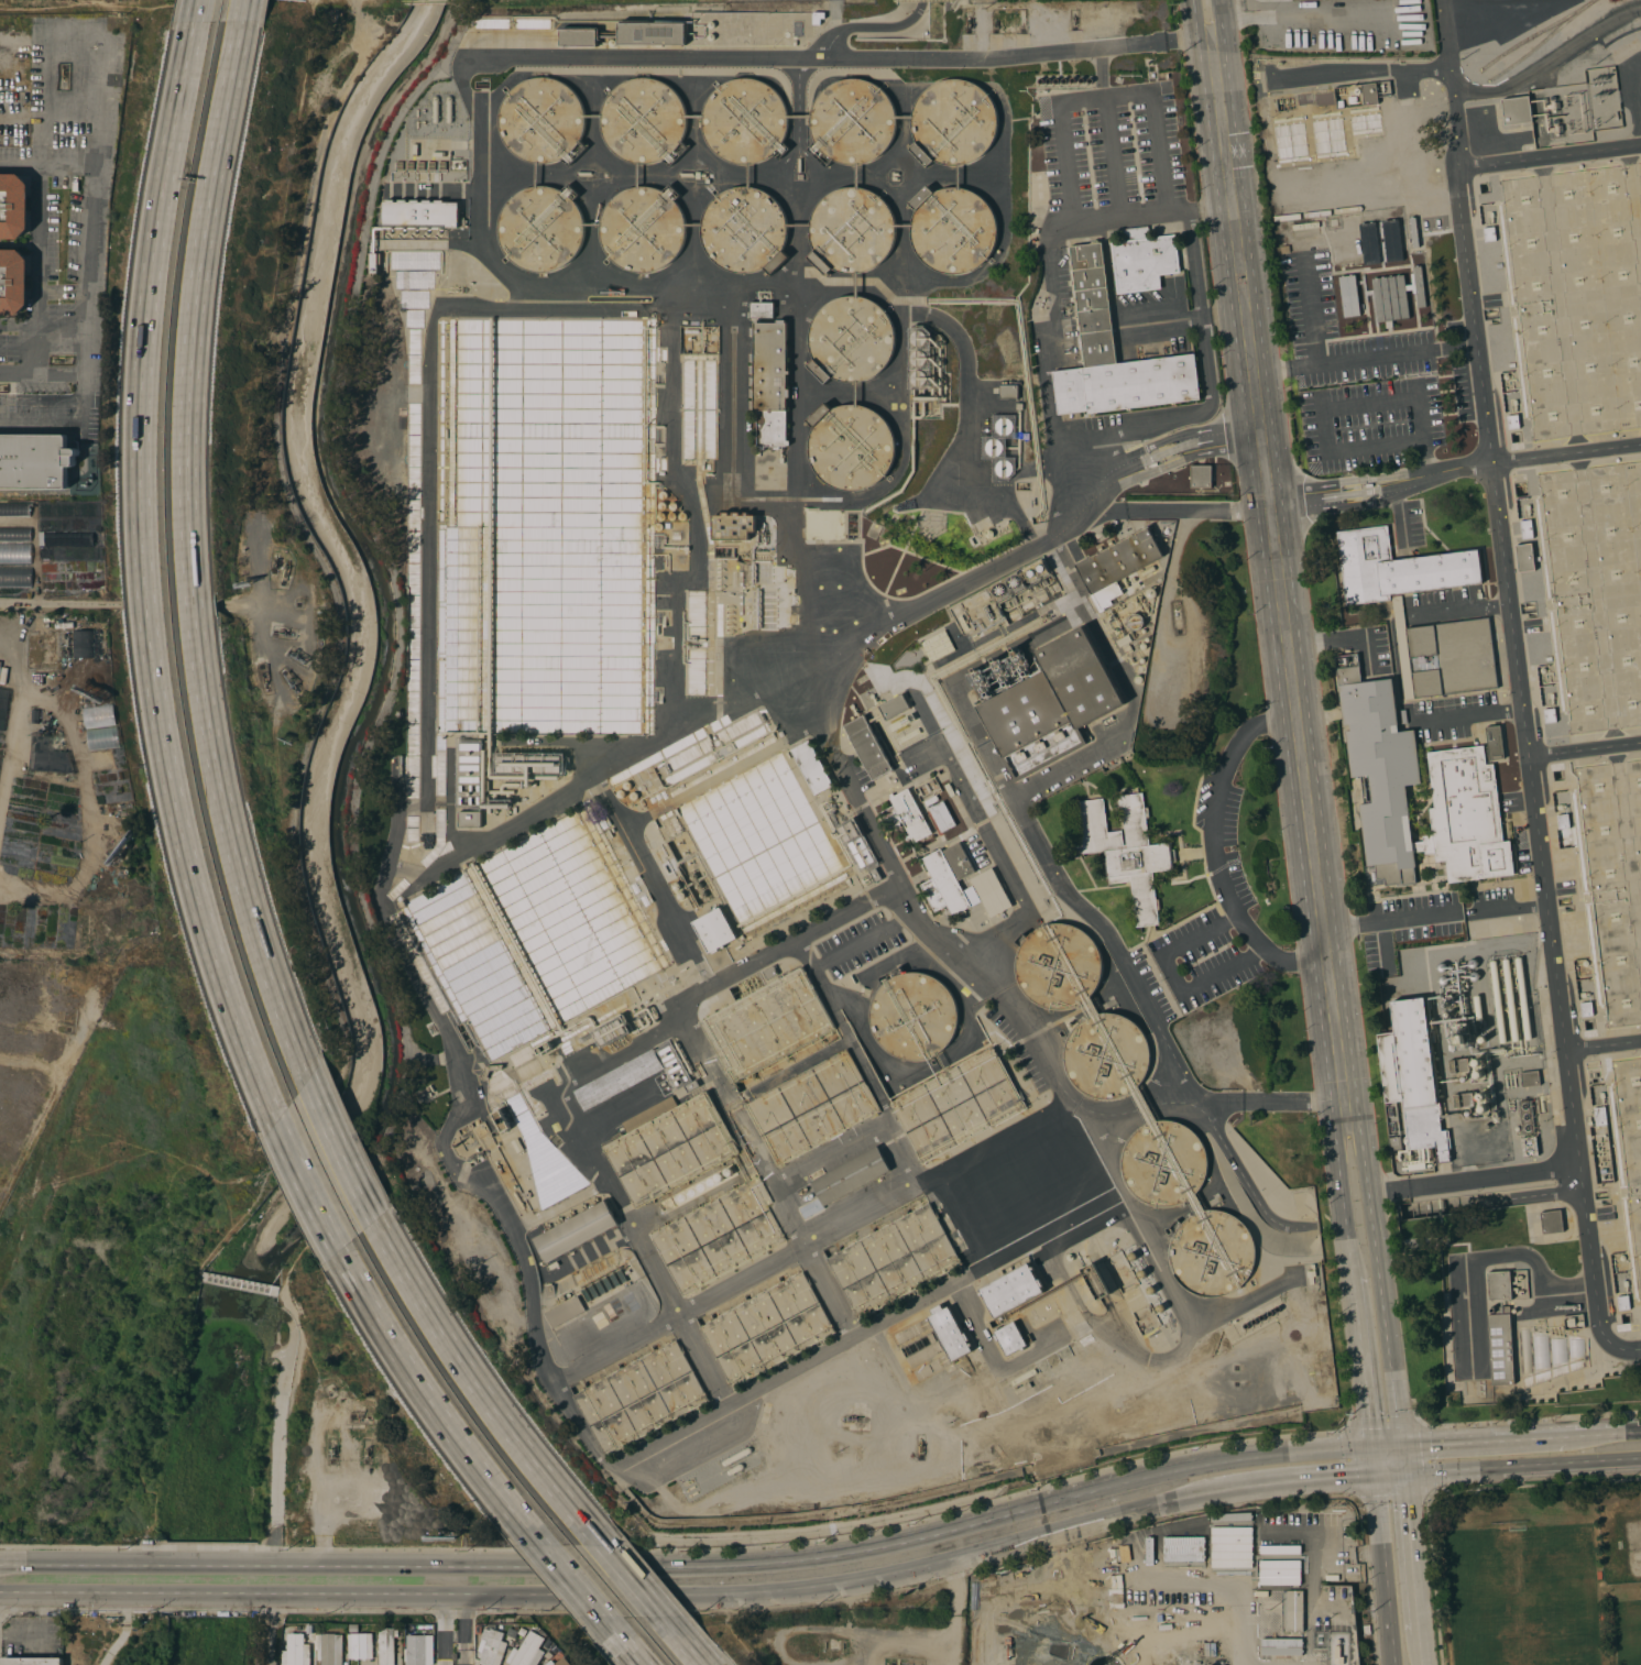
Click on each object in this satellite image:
road: (198, 11)
road: (243, 11)
road: (868, 25)
road: (44, 33)
building: (652, 33)
railway: (1539, 33)
building: (578, 37)
railway: (1545, 42)
road: (1547, 61)
road: (1361, 65)
building: (1369, 94)
road: (470, 105)
building: (1517, 109)
building: (541, 120)
building: (643, 120)
building: (744, 120)
building: (852, 121)
building: (952, 122)
road: (1549, 156)
road: (45, 167)
building: (13, 206)
road: (1210, 207)
building: (420, 212)
building: (540, 228)
building: (952, 229)
building: (643, 230)
building: (744, 230)
building: (851, 231)
building: (1489, 233)
building: (1392, 240)
road: (1189, 242)
building: (1369, 242)
road: (37, 248)
building: (1142, 259)
building: (374, 261)
building: (13, 281)
road: (88, 292)
building: (1349, 294)
building: (1397, 295)
road: (1224, 314)
road: (19, 326)
building: (918, 338)
building: (850, 339)
building: (1114, 353)
building: (918, 357)
road: (1366, 357)
building: (918, 376)
building: (769, 382)
building: (1008, 391)
road: (84, 399)
road: (1344, 407)
building: (1512, 421)
building: (1004, 426)
building: (850, 446)
building: (994, 446)
building: (34, 461)
building: (1004, 467)
building: (1201, 475)
building: (14, 508)
road: (1400, 512)
building: (732, 526)
building: (1525, 528)
building: (15, 533)
building: (14, 552)
building: (1524, 557)
road: (1278, 558)
petroleum well: (274, 560)
road: (998, 561)
road: (190, 565)
building: (1117, 565)
petroleum well: (285, 567)
building: (1397, 567)
building: (1036, 570)
building: (15, 576)
road: (149, 580)
building: (1007, 585)
road: (1463, 609)
petroleum well: (1178, 622)
petroleum well: (283, 633)
road: (1338, 639)
building: (83, 643)
building: (938, 645)
petroleum well: (296, 655)
building: (1444, 656)
building: (0, 665)
petroleum well: (263, 672)
building: (998, 675)
road: (1518, 677)
petroleum well: (289, 681)
building: (1048, 702)
building: (894, 706)
road: (1474, 714)
building: (98, 715)
wastewater plant: (1008, 715)
building: (1550, 715)
building: (39, 716)
building: (901, 721)
building: (102, 737)
building: (1495, 742)
road: (1584, 746)
building: (868, 747)
building: (527, 765)
building: (811, 767)
building: (469, 773)
building: (1462, 776)
building: (928, 789)
building: (907, 815)
building: (942, 817)
building: (469, 819)
building: (1563, 821)
building: (856, 844)
building: (1125, 850)
road: (1212, 850)
road: (641, 862)
road: (1052, 867)
building: (947, 878)
building: (991, 891)
road: (1514, 908)
road: (1391, 922)
building: (714, 930)
building: (1057, 965)
building: (528, 996)
building: (1523, 998)
building: (1498, 999)
building: (1510, 1000)
building: (1586, 1008)
building: (911, 1016)
building: (767, 1023)
building: (611, 1031)
road: (1030, 1031)
building: (1462, 1036)
road: (1602, 1044)
building: (1105, 1058)
building: (1459, 1065)
building: (637, 1074)
building: (1413, 1075)
building: (1530, 1077)
road: (576, 1081)
building: (1464, 1099)
building: (958, 1103)
building: (811, 1107)
building: (1527, 1116)
building: (1599, 1116)
building: (501, 1120)
building: (1394, 1141)
building: (669, 1144)
building: (1530, 1146)
road: (447, 1153)
road: (344, 1162)
building: (1166, 1163)
building: (551, 1172)
road: (770, 1173)
road: (1474, 1177)
building: (846, 1179)
building: (1033, 1184)
road: (307, 1191)
road: (1342, 1194)
building: (1551, 1220)
road: (965, 1222)
building: (575, 1230)
building: (719, 1235)
road: (810, 1245)
road: (1492, 1255)
building: (1216, 1256)
building: (895, 1260)
road: (1380, 1279)
building: (1095, 1280)
building: (1499, 1285)
building: (1011, 1290)
building: (565, 1311)
building: (767, 1329)
road: (873, 1330)
building: (949, 1332)
building: (1009, 1338)
building: (1500, 1346)
road: (1629, 1349)
road: (1364, 1360)
road: (480, 1393)
building: (641, 1398)
road: (436, 1406)
petroleum well: (852, 1417)
road: (1604, 1433)
road: (1483, 1439)
petroleum well: (919, 1444)
traffic signals: (1400, 1445)
road: (1387, 1446)
traffic signals: (1374, 1447)
petroleum well: (332, 1452)
petroleum well: (365, 1453)
building: (736, 1456)
road: (1401, 1458)
road: (1566, 1461)
river: (190, 1463)
road: (1434, 1470)
traffic signals: (1403, 1472)
traffic signals: (1377, 1475)
road: (1300, 1479)
building: (1295, 1529)
park: (1631, 1545)
road: (1411, 1552)
road: (1331, 1554)
road: (1385, 1555)
road: (824, 1556)
road: (83, 1566)
road: (215, 1566)
building: (1237, 1567)
park: (1545, 1575)
road: (633, 1584)
road: (576, 1585)
road: (750, 1592)
road: (83, 1593)
road: (215, 1593)
park: (1523, 1596)
park: (1626, 1625)
building: (307, 1626)
building: (296, 1628)
building: (353, 1628)
building: (478, 1628)
road: (274, 1629)
road: (456, 1629)
building: (1366, 1629)
building: (512, 1632)
road: (42, 1636)
road: (623, 1643)
road: (681, 1643)
road: (940, 1643)
building: (360, 1645)
building: (387, 1645)
building: (491, 1645)
building: (419, 1647)
building: (329, 1648)
road: (1420, 1648)
building: (297, 1651)
building: (527, 1651)
building: (32, 1661)
building: (554, 1662)
building: (891, 1664)

